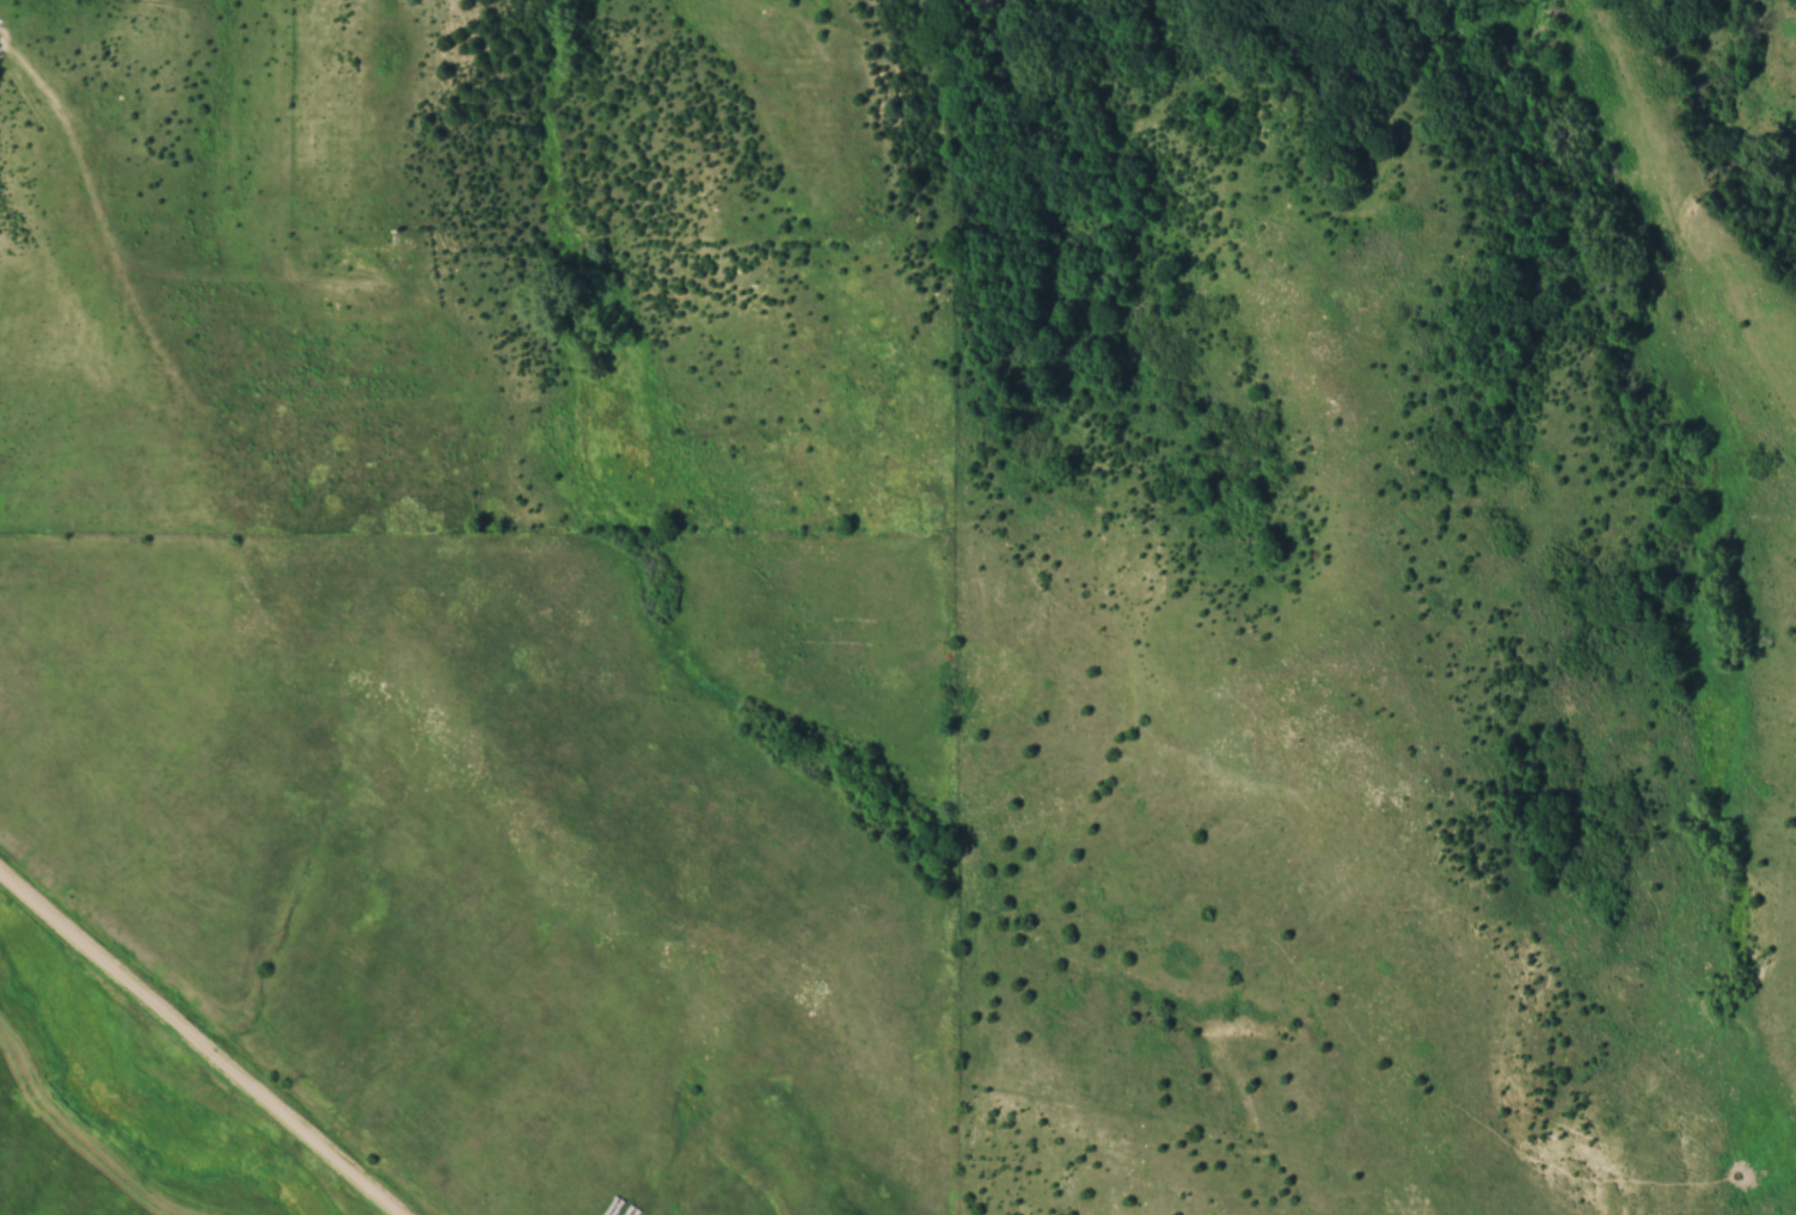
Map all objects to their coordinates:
road: (197, 1045)

